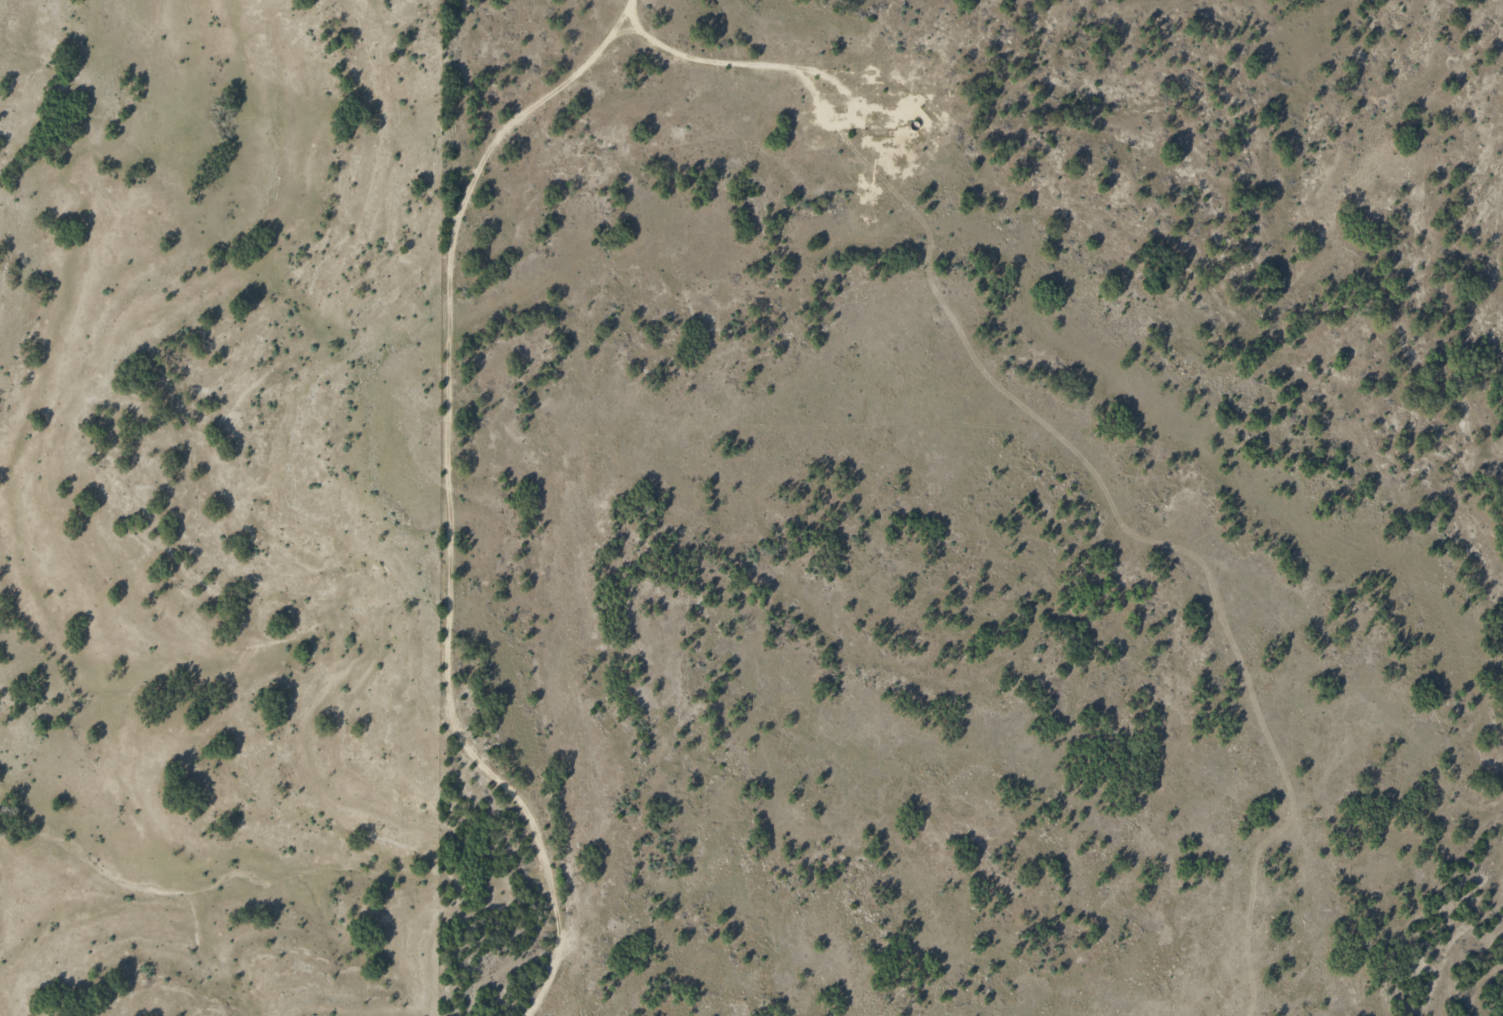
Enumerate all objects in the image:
road: (719, 61)
road: (448, 498)

